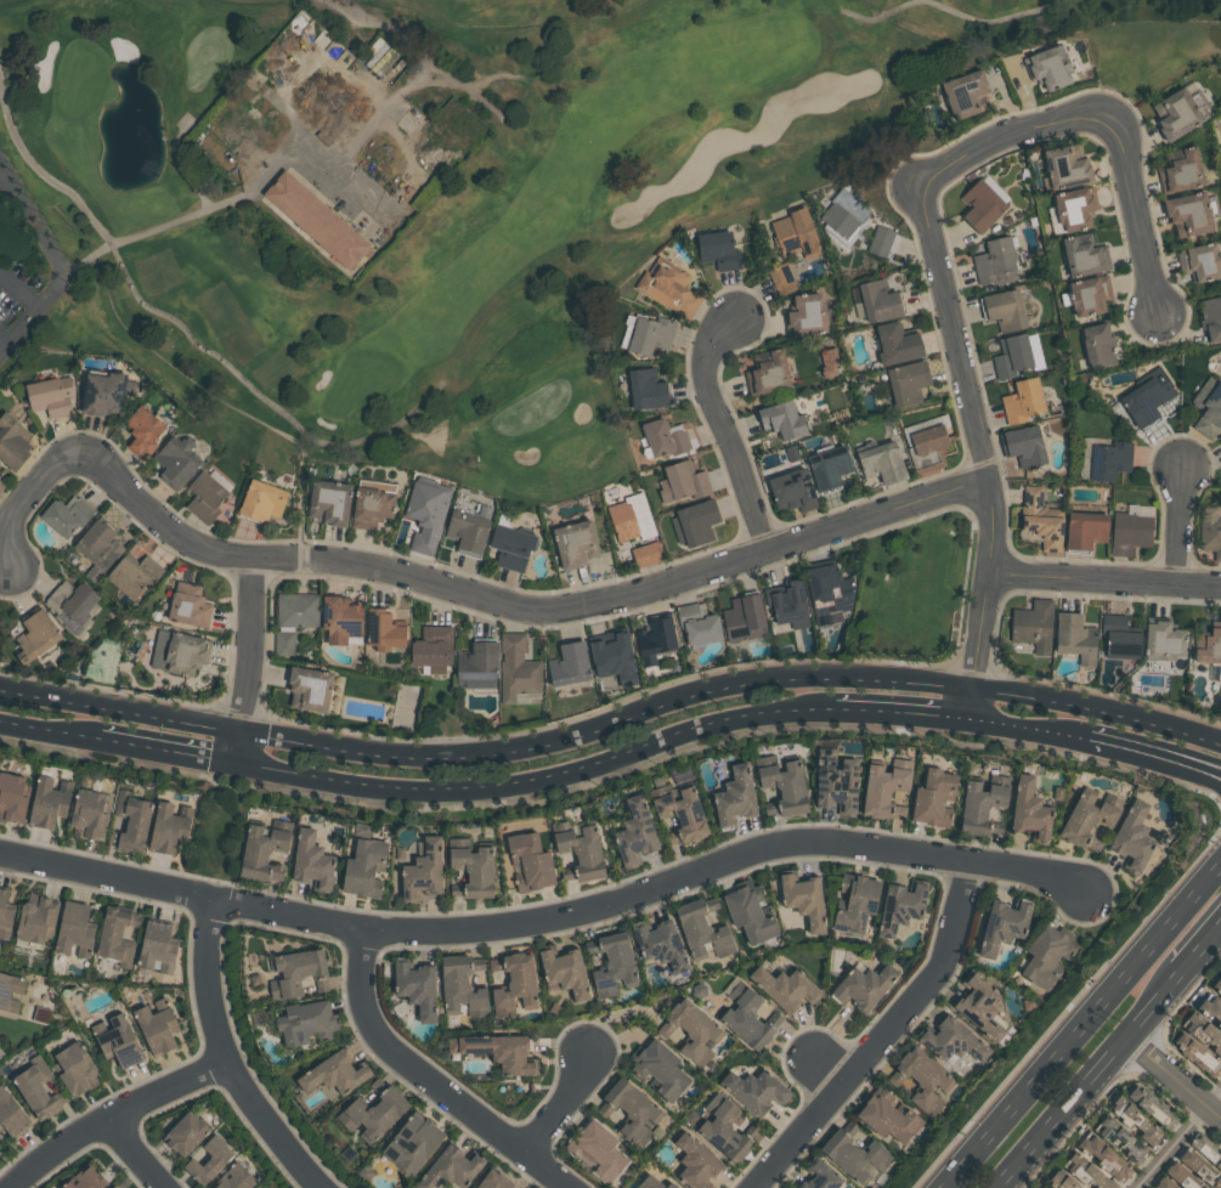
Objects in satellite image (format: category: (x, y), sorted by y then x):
building: (1048, 67)
road: (311, 73)
building: (965, 94)
building: (1178, 112)
road: (309, 145)
building: (1064, 166)
road: (4, 170)
building: (1180, 170)
road: (41, 172)
road: (4, 177)
park: (428, 193)
building: (979, 205)
building: (1074, 208)
building: (1187, 214)
building: (317, 219)
building: (796, 233)
building: (881, 238)
building: (717, 250)
road: (933, 253)
building: (1082, 255)
building: (1199, 261)
building: (994, 262)
road: (64, 270)
building: (784, 278)
road: (21, 288)
building: (667, 288)
building: (1089, 295)
building: (874, 301)
building: (1004, 310)
building: (804, 316)
building: (1210, 318)
building: (649, 334)
road: (5, 341)
building: (895, 344)
building: (1097, 346)
building: (1011, 356)
building: (830, 361)
building: (765, 373)
building: (906, 383)
building: (645, 390)
building: (101, 394)
building: (49, 395)
building: (1146, 396)
building: (1022, 401)
building: (1208, 408)
building: (779, 422)
road: (722, 425)
building: (141, 431)
building: (663, 439)
building: (1220, 440)
building: (12, 441)
building: (925, 442)
building: (1022, 446)
building: (1108, 460)
building: (175, 462)
building: (881, 462)
building: (0, 464)
building: (827, 468)
building: (680, 482)
building: (1, 483)
building: (378, 483)
building: (791, 491)
building: (205, 493)
road: (28, 497)
building: (260, 502)
building: (328, 503)
building: (425, 503)
building: (371, 507)
building: (64, 516)
road: (1178, 517)
building: (1039, 521)
building: (694, 524)
building: (1130, 528)
building: (468, 530)
building: (1084, 530)
building: (1209, 532)
building: (510, 544)
building: (573, 544)
building: (96, 547)
building: (648, 553)
building: (134, 575)
road: (1103, 578)
building: (829, 588)
park: (911, 593)
building: (784, 604)
building: (187, 605)
road: (522, 605)
building: (73, 606)
building: (292, 620)
building: (339, 620)
building: (742, 621)
building: (696, 626)
building: (1031, 626)
building: (383, 630)
building: (1072, 634)
building: (35, 635)
building: (1118, 638)
building: (655, 640)
building: (1161, 641)
building: (1209, 646)
building: (431, 649)
building: (177, 652)
building: (612, 656)
road: (254, 661)
building: (567, 664)
building: (475, 667)
building: (515, 668)
building: (309, 689)
road: (901, 712)
road: (612, 724)
road: (50, 730)
road: (1028, 730)
road: (169, 752)
road: (1154, 759)
road: (541, 781)
building: (780, 783)
building: (833, 783)
building: (882, 791)
building: (733, 797)
building: (11, 798)
building: (932, 798)
building: (46, 803)
building: (982, 804)
building: (679, 811)
building: (1028, 811)
building: (89, 814)
building: (1087, 819)
building: (129, 822)
building: (166, 828)
building: (634, 833)
building: (1130, 837)
building: (264, 850)
building: (576, 850)
building: (398, 853)
building: (311, 861)
building: (527, 861)
building: (364, 865)
building: (470, 869)
building: (423, 870)
building: (802, 899)
building: (854, 903)
building: (898, 907)
building: (748, 912)
building: (5, 916)
road: (549, 920)
building: (34, 921)
building: (1001, 927)
building: (701, 929)
building: (72, 930)
building: (114, 937)
building: (658, 946)
building: (154, 947)
road: (1202, 949)
building: (1046, 955)
building: (611, 962)
building: (561, 971)
building: (299, 972)
building: (254, 979)
building: (513, 983)
building: (1216, 985)
building: (863, 986)
building: (417, 988)
building: (460, 988)
building: (784, 988)
building: (2, 997)
building: (977, 1007)
building: (1209, 1007)
building: (41, 1016)
building: (256, 1017)
building: (744, 1017)
building: (304, 1023)
road: (1080, 1025)
building: (156, 1026)
building: (691, 1031)
building: (1203, 1031)
road: (887, 1035)
building: (953, 1041)
building: (117, 1042)
building: (496, 1051)
building: (1195, 1054)
road: (227, 1060)
building: (658, 1069)
building: (74, 1070)
building: (330, 1073)
road: (1092, 1079)
road: (1172, 1079)
road: (431, 1080)
building: (921, 1081)
building: (35, 1090)
building: (754, 1092)
road: (564, 1105)
building: (626, 1107)
building: (1151, 1107)
building: (373, 1113)
building: (11, 1115)
road: (113, 1116)
building: (887, 1118)
building: (1144, 1124)
building: (722, 1130)
building: (181, 1133)
road: (1180, 1139)
building: (1120, 1141)
building: (411, 1142)
building: (594, 1150)
road: (139, 1153)
building: (1216, 1153)
building: (1101, 1154)
building: (853, 1156)
building: (207, 1159)
building: (694, 1162)
building: (448, 1169)
building: (1206, 1169)
building: (1086, 1171)
building: (1178, 1173)
building: (819, 1176)
building: (232, 1177)
building: (84, 1179)
building: (1059, 1179)
building: (491, 1181)
building: (648, 1183)
building: (1163, 1183)
building: (111, 1186)
building: (668, 1186)
building: (254, 1187)
building: (256, 1187)
building: (1041, 1187)
building: (1042, 1187)

